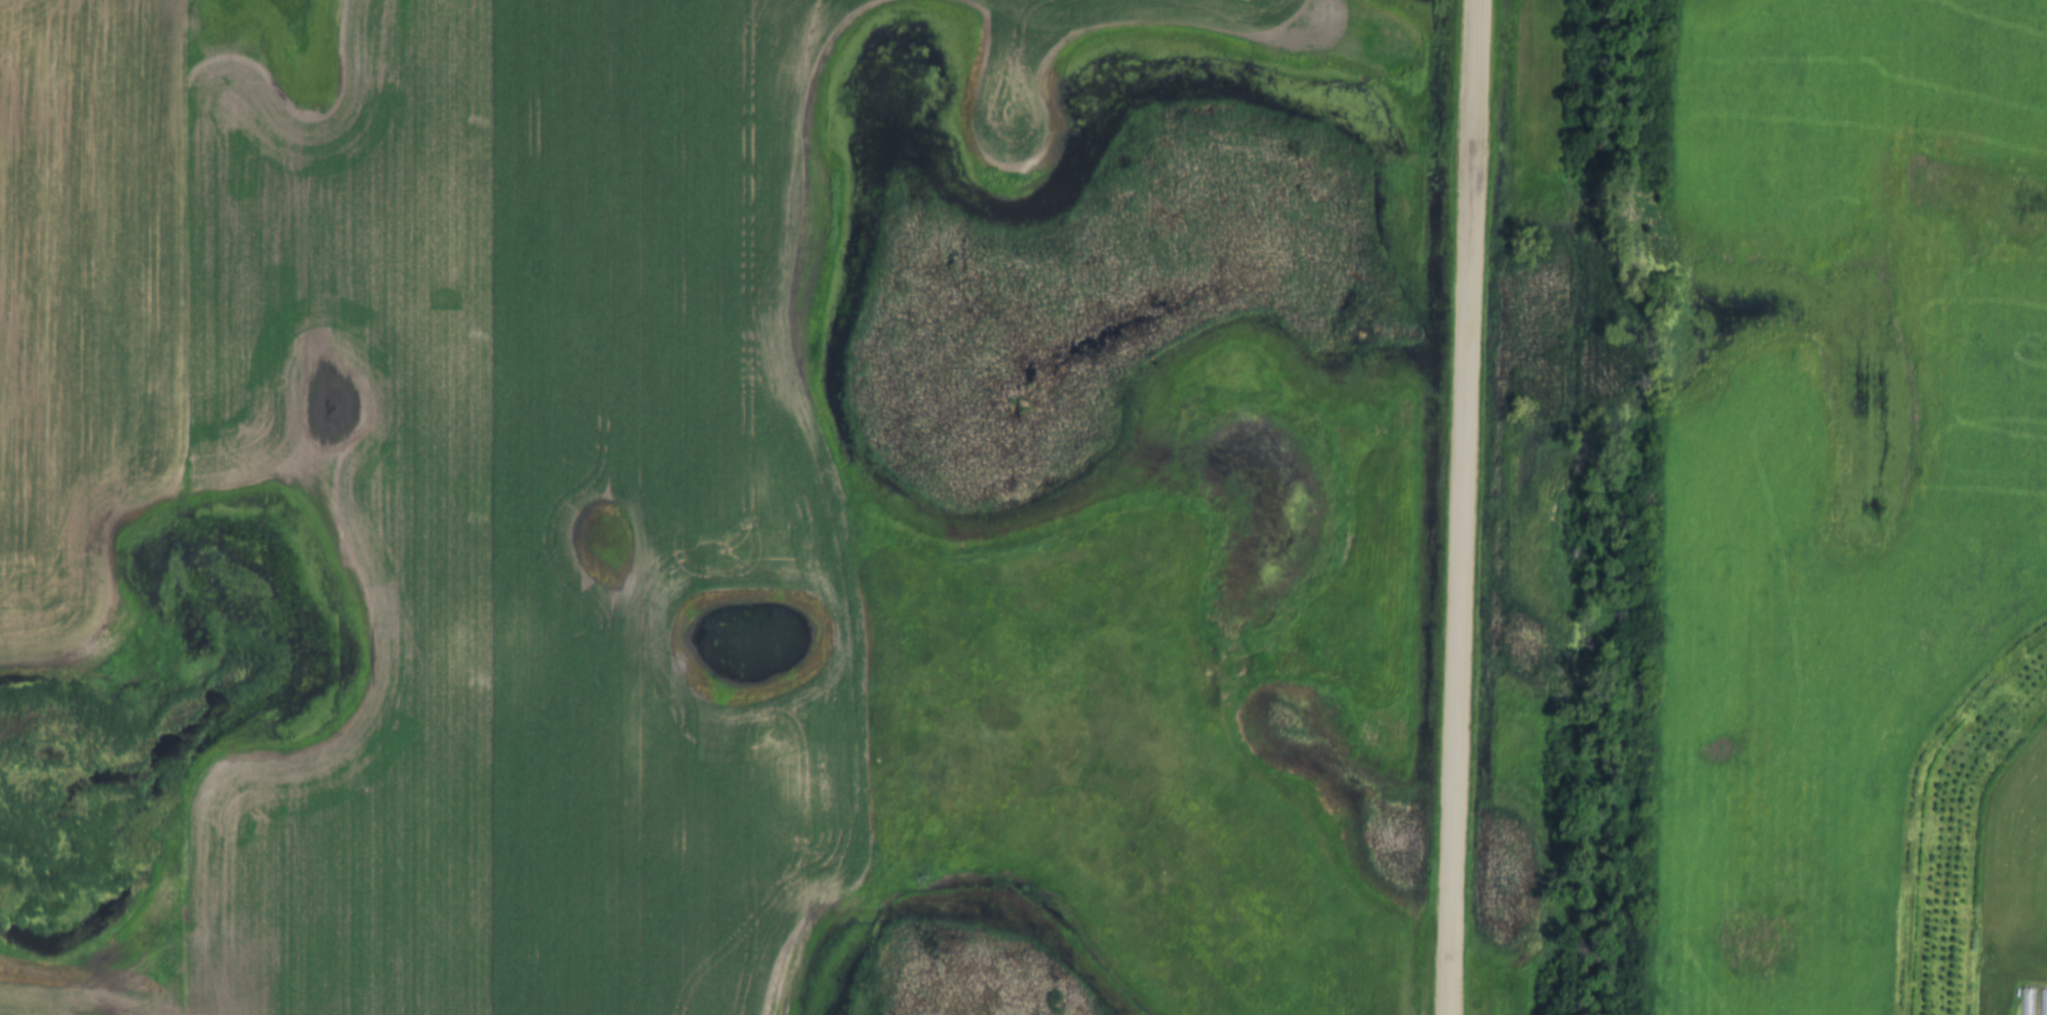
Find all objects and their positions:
building: (1947, 353)
road: (1462, 507)

